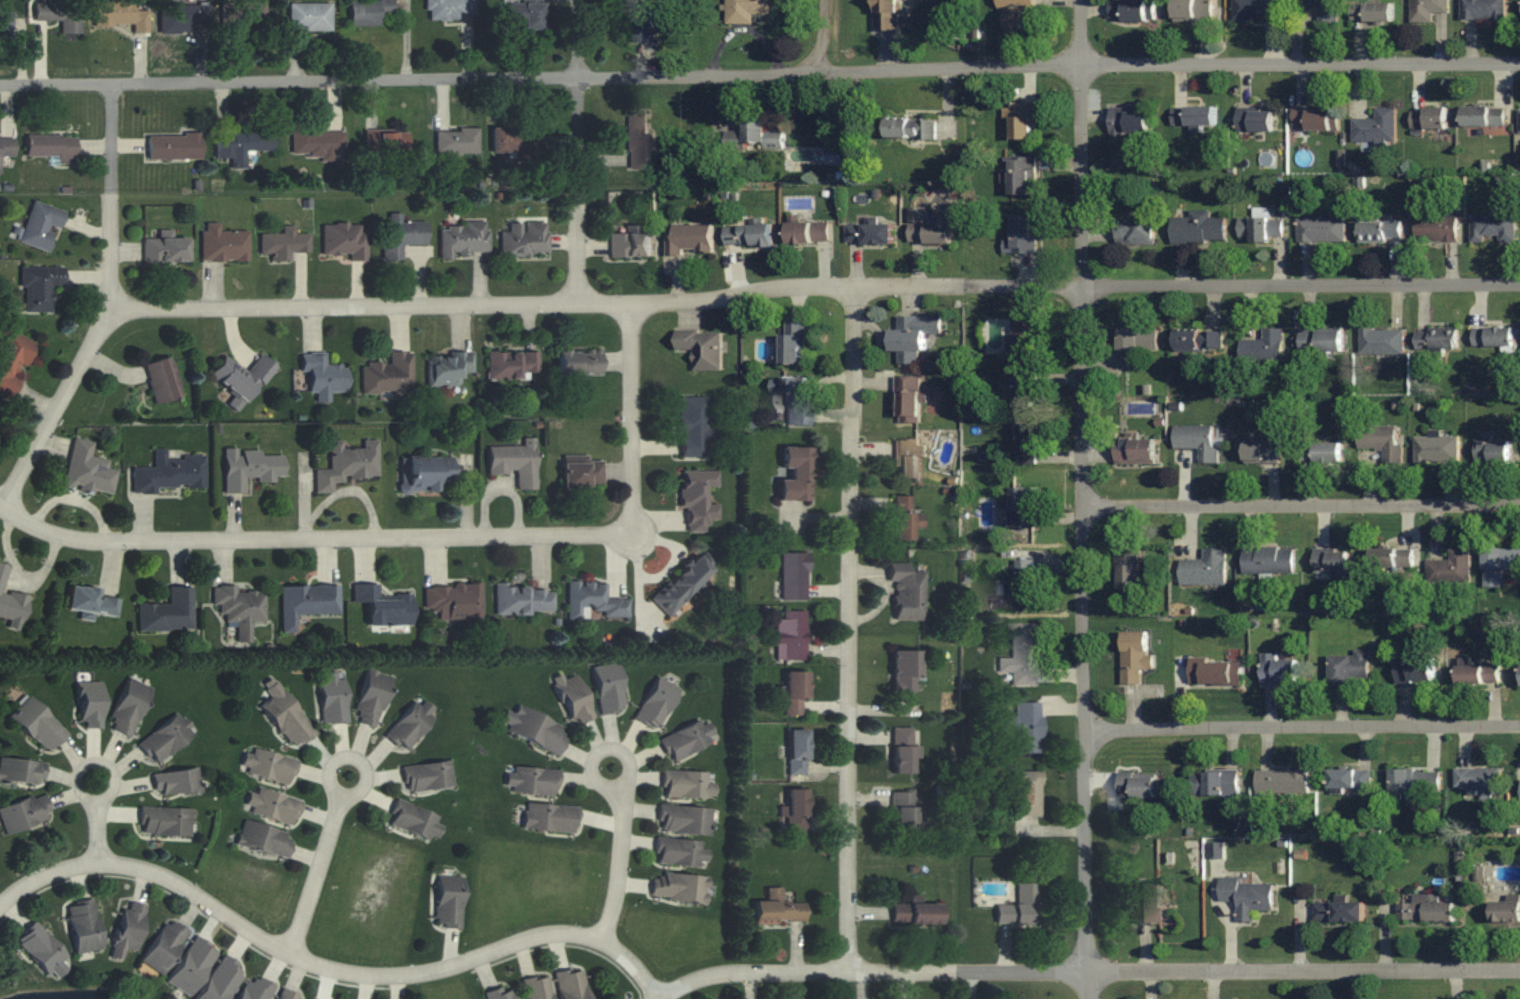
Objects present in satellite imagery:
building: (1322, 8)
building: (451, 9)
building: (746, 10)
building: (1139, 10)
building: (1193, 10)
building: (1255, 10)
building: (1427, 10)
building: (1483, 10)
building: (368, 11)
building: (113, 12)
building: (1372, 12)
building: (59, 14)
building: (241, 14)
building: (524, 14)
building: (886, 15)
building: (186, 16)
building: (308, 16)
building: (1015, 16)
building: (643, 20)
building: (4, 21)
road: (823, 38)
road: (760, 72)
building: (1193, 115)
building: (1483, 115)
building: (1428, 117)
building: (1021, 119)
building: (1315, 119)
building: (1255, 120)
building: (1519, 120)
building: (1128, 121)
building: (1375, 127)
building: (911, 128)
building: (755, 135)
building: (637, 139)
building: (385, 140)
building: (457, 140)
building: (515, 140)
building: (318, 142)
building: (6, 145)
building: (173, 145)
building: (240, 145)
building: (49, 147)
road: (578, 149)
building: (835, 155)
building: (1019, 174)
building: (40, 225)
building: (929, 226)
building: (1198, 227)
building: (1319, 227)
building: (1436, 227)
building: (1492, 227)
building: (1260, 228)
building: (1135, 229)
building: (1380, 231)
building: (809, 232)
building: (869, 233)
building: (748, 234)
building: (401, 235)
building: (1022, 235)
building: (343, 239)
building: (463, 239)
building: (524, 239)
building: (690, 239)
building: (222, 243)
building: (282, 243)
building: (630, 244)
building: (164, 247)
road: (816, 283)
building: (38, 287)
road: (113, 309)
building: (912, 336)
building: (1023, 337)
building: (1493, 337)
building: (1435, 339)
building: (1198, 340)
building: (794, 341)
building: (1320, 341)
building: (1380, 341)
building: (1135, 344)
building: (1264, 347)
building: (702, 348)
building: (12, 359)
building: (578, 362)
building: (511, 365)
building: (447, 368)
building: (322, 375)
building: (388, 376)
building: (239, 379)
building: (161, 380)
building: (1019, 389)
building: (796, 400)
building: (908, 400)
road: (634, 413)
building: (692, 426)
building: (1197, 440)
building: (1381, 441)
building: (1027, 443)
building: (1436, 448)
building: (1260, 449)
building: (1136, 450)
building: (1493, 451)
building: (1321, 452)
building: (907, 458)
building: (514, 462)
building: (346, 464)
building: (248, 468)
building: (86, 469)
building: (167, 473)
building: (422, 473)
building: (793, 473)
building: (581, 474)
building: (696, 497)
road: (1081, 499)
road: (1301, 502)
building: (1023, 507)
building: (904, 518)
road: (309, 536)
building: (1392, 557)
building: (1269, 560)
building: (1502, 560)
building: (1332, 564)
building: (1451, 567)
building: (1204, 568)
building: (1127, 569)
building: (793, 575)
building: (682, 581)
building: (1024, 581)
building: (906, 591)
building: (523, 599)
building: (592, 600)
building: (452, 601)
building: (10, 602)
building: (88, 602)
building: (305, 602)
building: (381, 605)
building: (239, 608)
building: (167, 611)
road: (851, 624)
building: (790, 635)
building: (1021, 655)
building: (1135, 657)
building: (1349, 667)
building: (903, 670)
building: (1278, 670)
building: (1415, 670)
building: (1215, 673)
building: (1478, 674)
building: (607, 688)
building: (794, 693)
building: (331, 697)
building: (370, 697)
building: (572, 698)
building: (656, 703)
building: (88, 704)
building: (127, 707)
building: (284, 714)
building: (36, 724)
building: (409, 724)
road: (1302, 724)
building: (1025, 727)
building: (532, 728)
building: (164, 738)
building: (685, 740)
building: (904, 751)
building: (796, 752)
road: (593, 758)
road: (333, 759)
road: (81, 766)
building: (267, 766)
building: (21, 771)
building: (426, 776)
building: (530, 780)
building: (1352, 781)
building: (1480, 781)
building: (174, 782)
building: (1283, 782)
building: (1215, 783)
building: (686, 784)
building: (1414, 784)
building: (1137, 787)
building: (1027, 794)
building: (271, 806)
building: (795, 810)
building: (905, 811)
building: (23, 813)
building: (548, 817)
building: (684, 819)
building: (164, 821)
building: (414, 821)
road: (96, 831)
building: (263, 840)
building: (1216, 850)
building: (680, 853)
road: (620, 864)
road: (316, 874)
building: (678, 888)
building: (1247, 896)
building: (447, 901)
building: (1150, 905)
building: (1020, 907)
building: (777, 909)
building: (1426, 911)
building: (1506, 911)
building: (1339, 912)
building: (916, 913)
building: (82, 926)
building: (127, 930)
building: (163, 946)
building: (39, 948)
road: (328, 966)
building: (191, 967)
road: (1086, 967)
building: (221, 980)
building: (570, 984)
building: (537, 988)
building: (255, 989)
building: (501, 993)
building: (287, 995)

